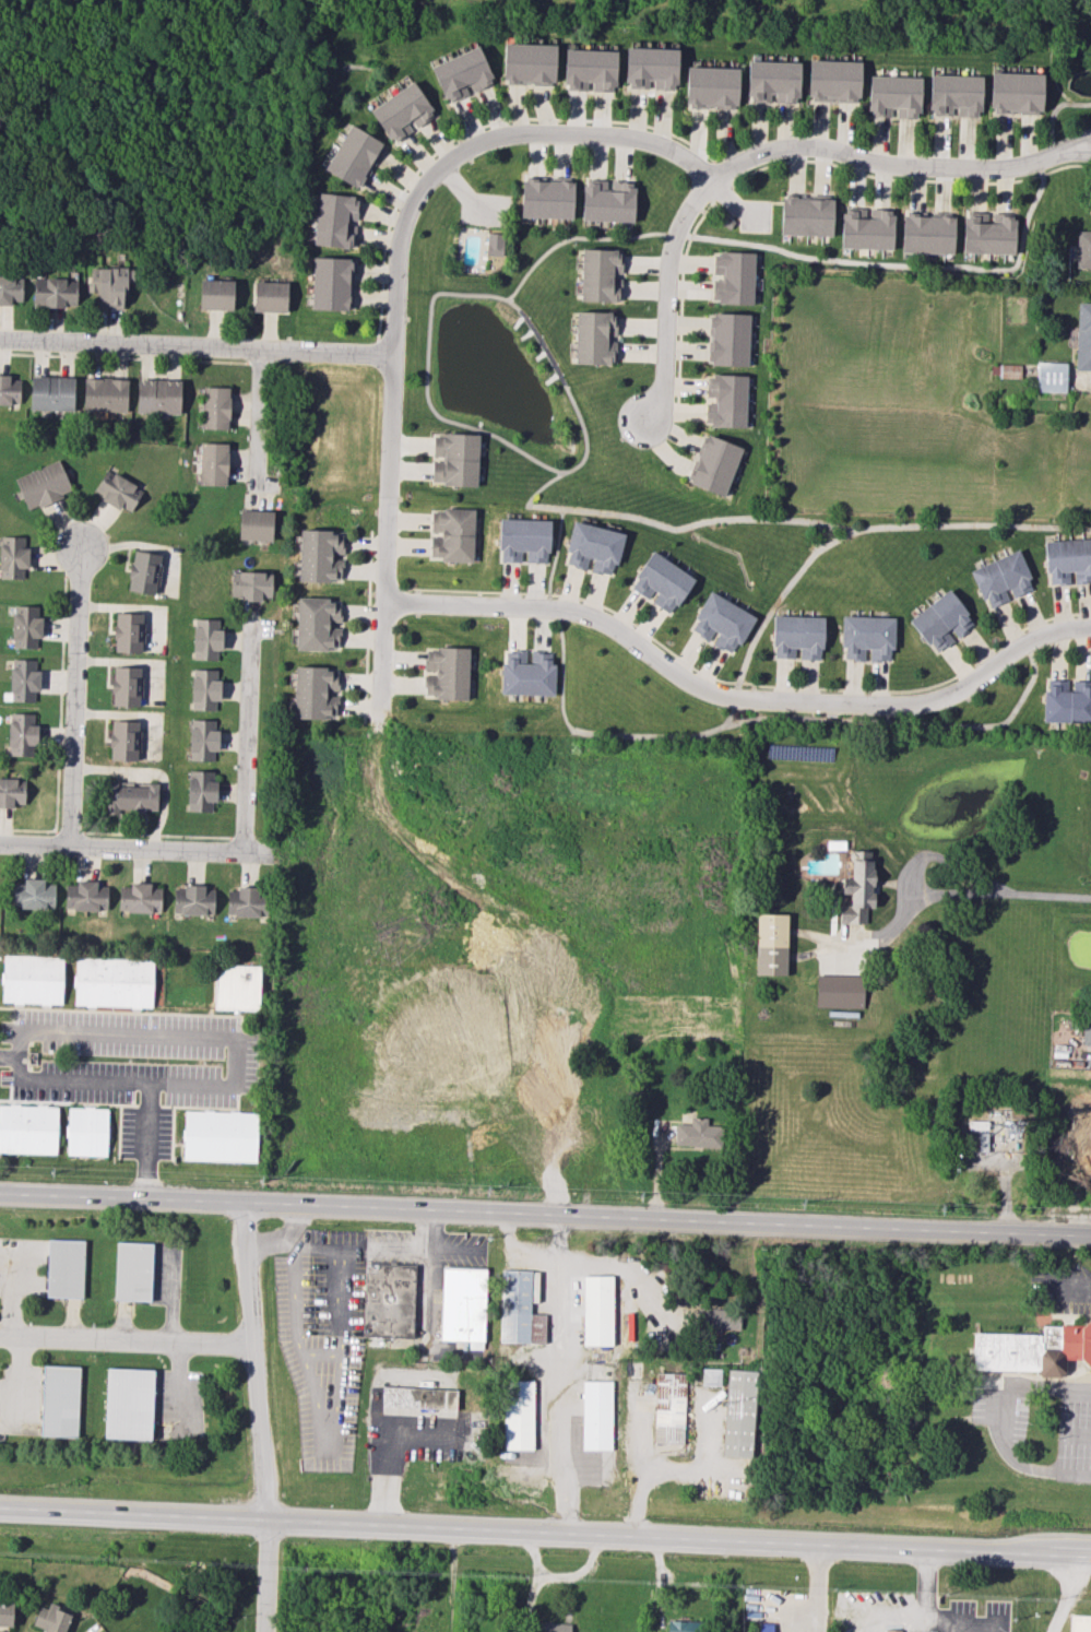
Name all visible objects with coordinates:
building: (529, 63)
building: (651, 68)
building: (589, 69)
building: (461, 74)
building: (833, 80)
building: (772, 82)
building: (711, 86)
building: (1016, 93)
building: (954, 94)
building: (893, 96)
building: (402, 111)
road: (1072, 143)
road: (1074, 152)
building: (355, 156)
road: (881, 165)
road: (466, 198)
building: (546, 199)
building: (608, 201)
road: (735, 204)
parking lot: (487, 212)
parking lot: (756, 215)
building: (806, 216)
building: (335, 220)
building: (867, 228)
building: (988, 233)
building: (927, 234)
road: (615, 239)
building: (495, 244)
building: (1083, 249)
building: (601, 274)
building: (733, 277)
building: (331, 283)
building: (110, 285)
building: (10, 289)
building: (54, 292)
building: (215, 294)
road: (472, 294)
building: (269, 296)
road: (402, 296)
road: (669, 299)
building: (1083, 336)
building: (594, 338)
building: (728, 339)
road: (199, 348)
building: (1009, 370)
building: (1051, 377)
building: (9, 390)
building: (51, 393)
building: (105, 394)
building: (158, 397)
building: (725, 400)
building: (215, 407)
road: (259, 428)
building: (454, 459)
building: (213, 463)
building: (714, 464)
building: (43, 484)
building: (117, 490)
road: (763, 519)
building: (256, 524)
road: (972, 525)
building: (453, 534)
building: (523, 540)
building: (593, 547)
building: (319, 556)
building: (12, 557)
building: (1068, 560)
road: (740, 561)
building: (143, 571)
building: (1000, 578)
building: (661, 582)
building: (251, 584)
building: (721, 622)
building: (941, 622)
building: (316, 624)
building: (25, 626)
building: (128, 631)
building: (797, 637)
building: (866, 637)
building: (205, 638)
building: (447, 673)
building: (527, 673)
building: (23, 679)
building: (126, 686)
building: (204, 688)
building: (315, 691)
road: (73, 697)
road: (736, 698)
building: (1067, 701)
road: (567, 719)
road: (905, 721)
road: (248, 732)
building: (22, 733)
building: (203, 738)
building: (123, 740)
building: (201, 790)
building: (11, 792)
building: (131, 797)
road: (121, 849)
building: (858, 854)
road: (911, 874)
building: (857, 891)
building: (33, 894)
road: (1047, 894)
building: (85, 896)
building: (140, 898)
building: (193, 900)
building: (245, 902)
building: (770, 944)
building: (32, 979)
building: (114, 982)
building: (237, 986)
building: (839, 991)
building: (1087, 1032)
road: (228, 1042)
road: (75, 1079)
building: (28, 1128)
building: (86, 1131)
building: (698, 1134)
building: (220, 1135)
power tower: (50, 1174)
power tower: (260, 1183)
power tower: (486, 1190)
road: (1000, 1193)
power tower: (801, 1203)
power tower: (938, 1206)
road: (545, 1215)
road: (288, 1225)
road: (427, 1232)
road: (304, 1246)
road: (390, 1249)
building: (64, 1268)
building: (132, 1270)
road: (1068, 1292)
building: (388, 1300)
building: (462, 1304)
building: (519, 1310)
building: (597, 1310)
building: (720, 1318)
road: (129, 1340)
building: (1034, 1348)
building: (711, 1376)
road: (1044, 1386)
building: (419, 1397)
building: (59, 1400)
building: (128, 1404)
building: (668, 1408)
building: (738, 1414)
building: (518, 1415)
building: (597, 1415)
road: (259, 1417)
road: (1077, 1433)
road: (1012, 1460)
road: (545, 1534)
road: (576, 1572)
road: (534, 1582)
road: (816, 1588)
road: (1065, 1594)
road: (927, 1606)
building: (5, 1613)
building: (51, 1618)
building: (1079, 1623)
building: (681, 1625)
building: (553, 1627)
building: (764, 1627)
building: (891, 1630)

